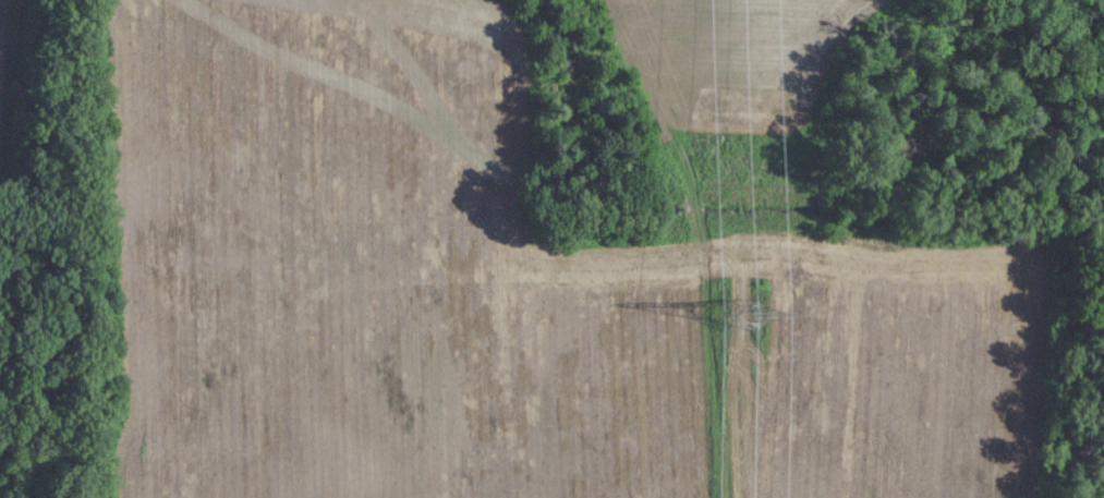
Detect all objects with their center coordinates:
power tower: (733, 307)

